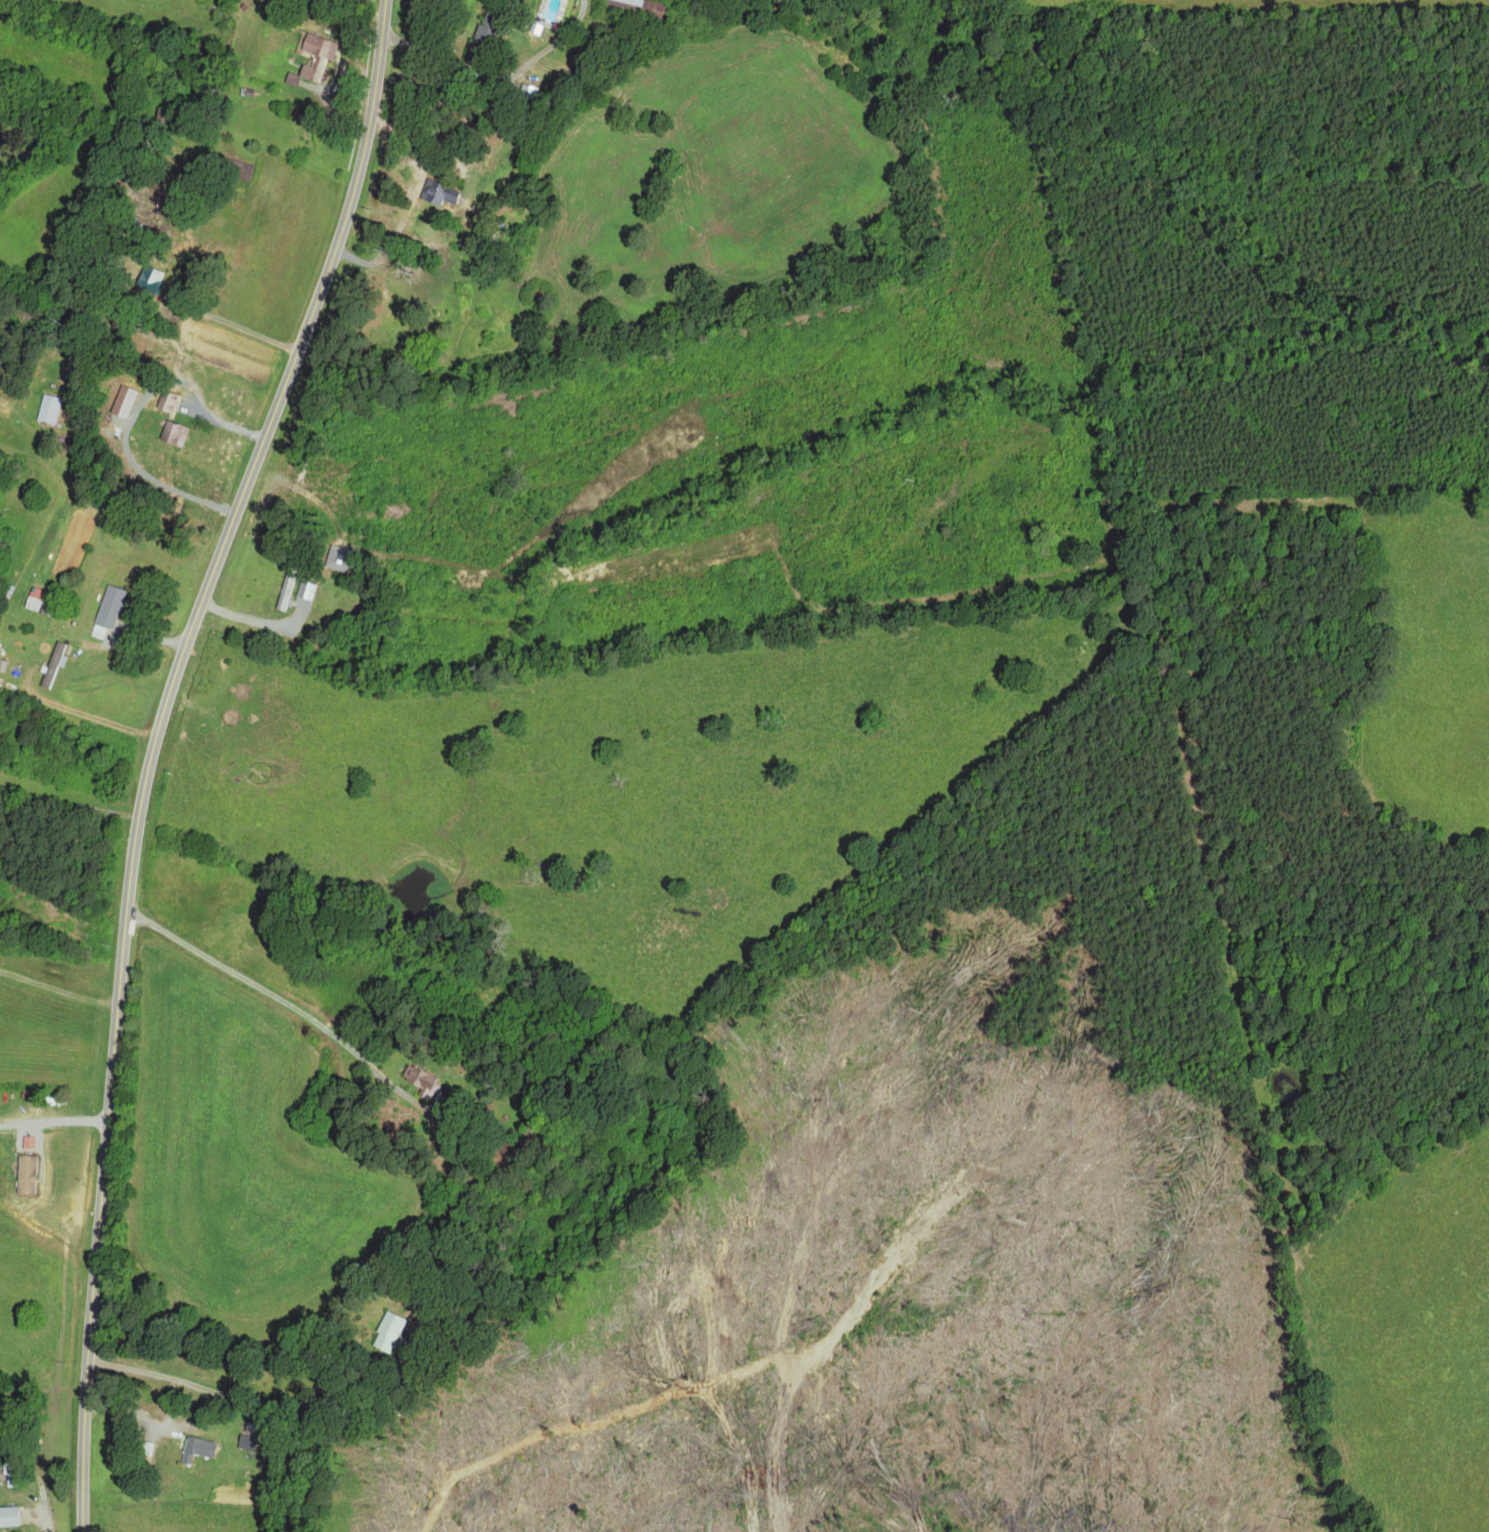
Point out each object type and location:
building: (483, 35)
building: (315, 55)
building: (291, 78)
building: (238, 168)
building: (439, 194)
building: (147, 278)
building: (121, 401)
building: (165, 401)
building: (47, 408)
building: (172, 433)
building: (305, 590)
building: (283, 595)
building: (31, 603)
building: (107, 608)
building: (52, 665)
road: (152, 747)
building: (419, 1080)
building: (28, 1142)
building: (25, 1175)
building: (389, 1331)
road: (259, 1402)
building: (195, 1448)
building: (8, 1515)

